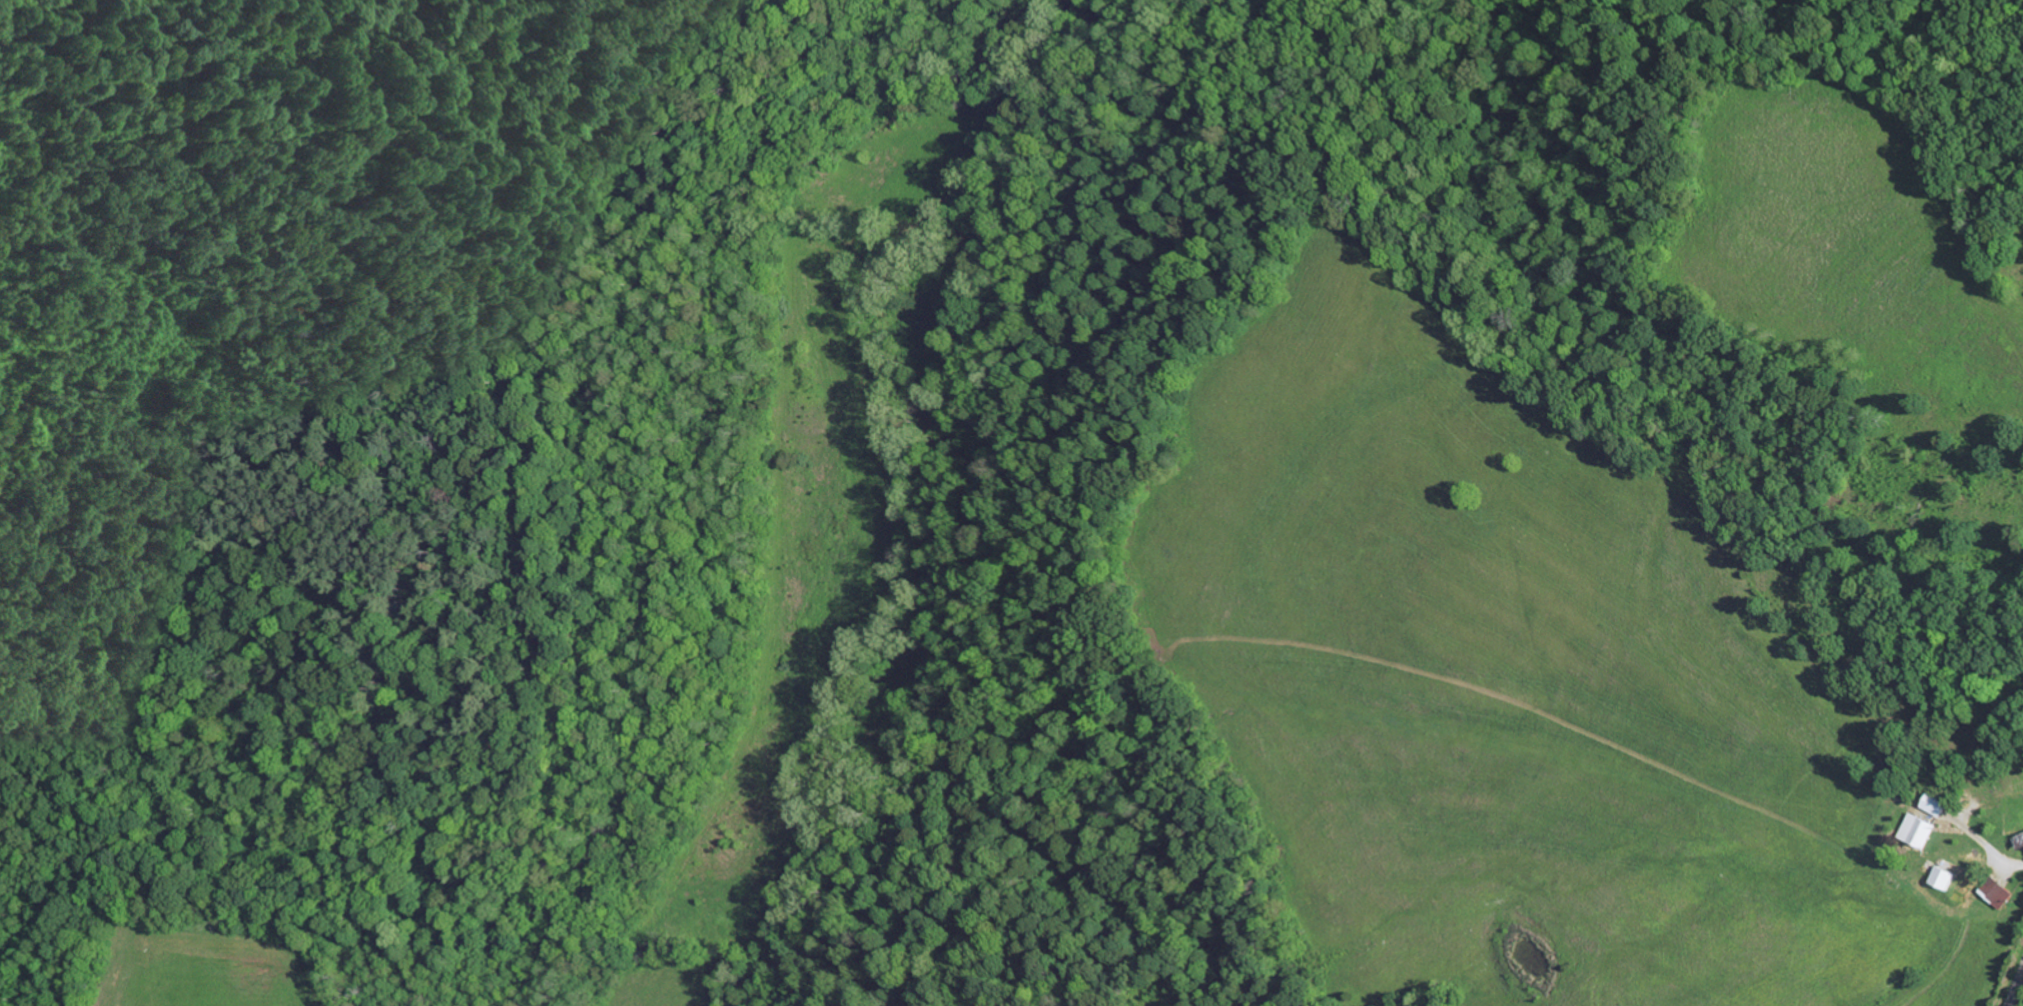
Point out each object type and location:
building: (1932, 804)
building: (1915, 830)
building: (2018, 841)
building: (1993, 891)
road: (2018, 994)

